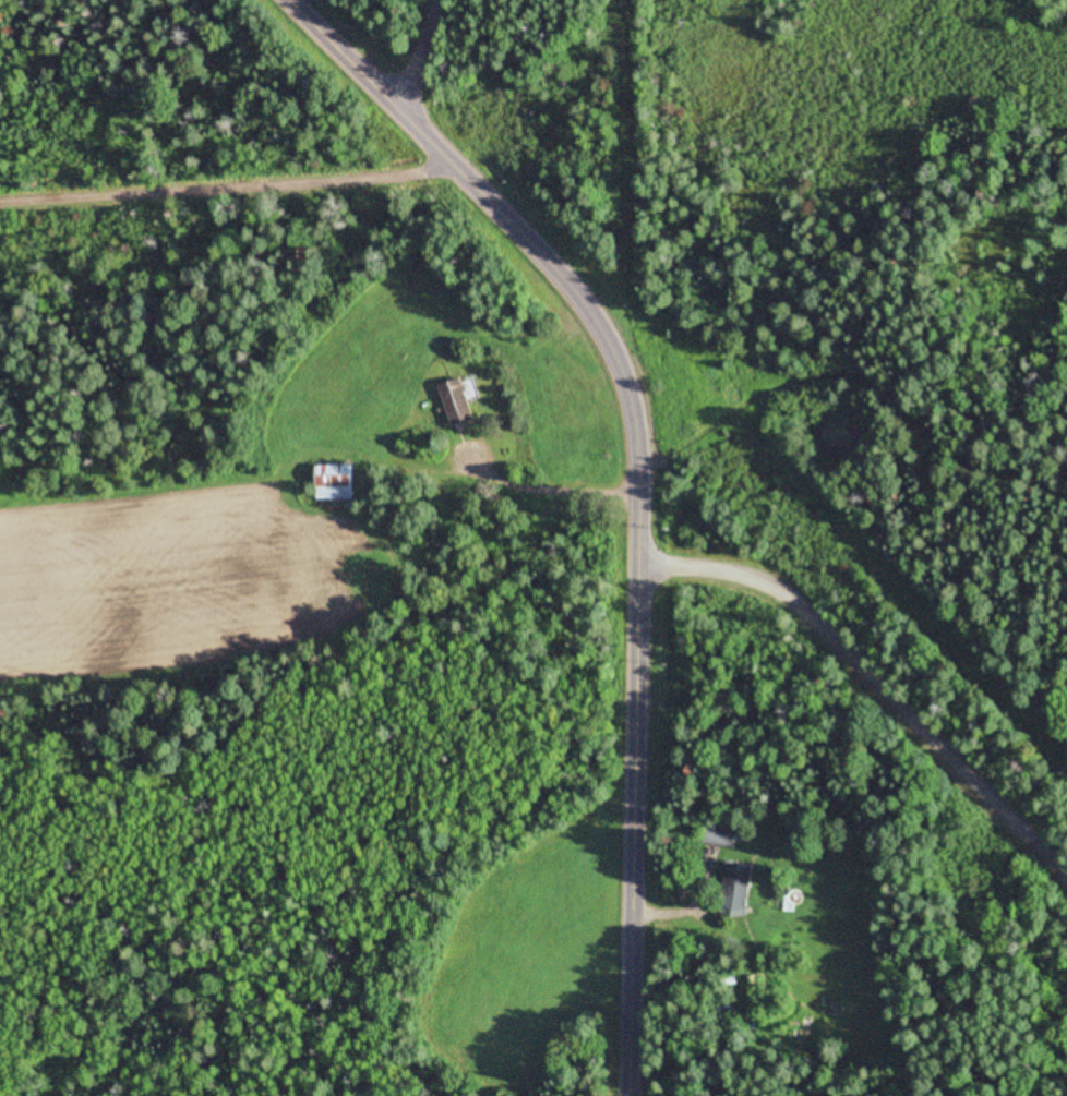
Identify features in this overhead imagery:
road: (409, 56)
road: (232, 184)
building: (461, 401)
road: (640, 479)
building: (339, 482)
road: (876, 667)
building: (722, 834)
building: (740, 890)

